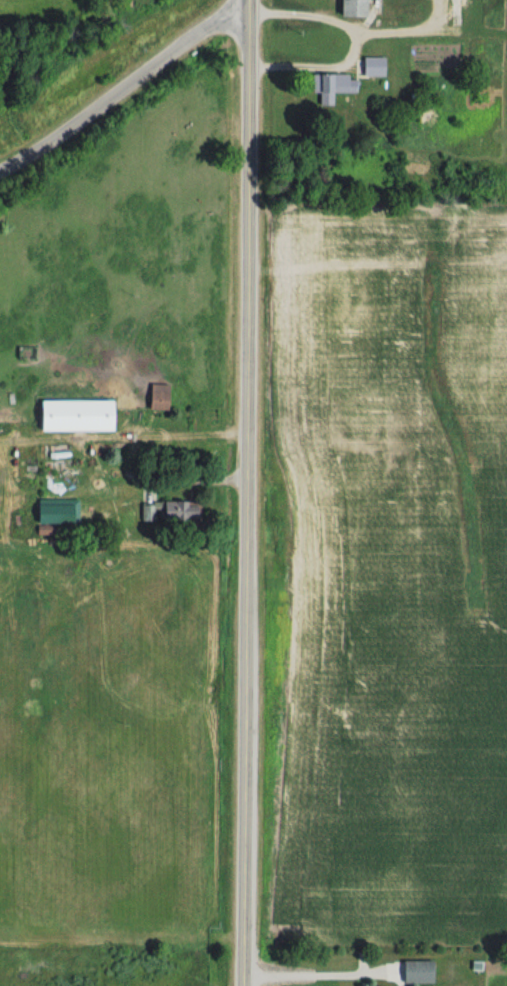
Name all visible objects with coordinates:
building: (350, 7)
road: (354, 40)
building: (371, 66)
building: (329, 85)
road: (125, 88)
building: (155, 396)
building: (72, 415)
road: (249, 492)
building: (70, 510)
building: (165, 511)
road: (319, 972)
building: (413, 972)

